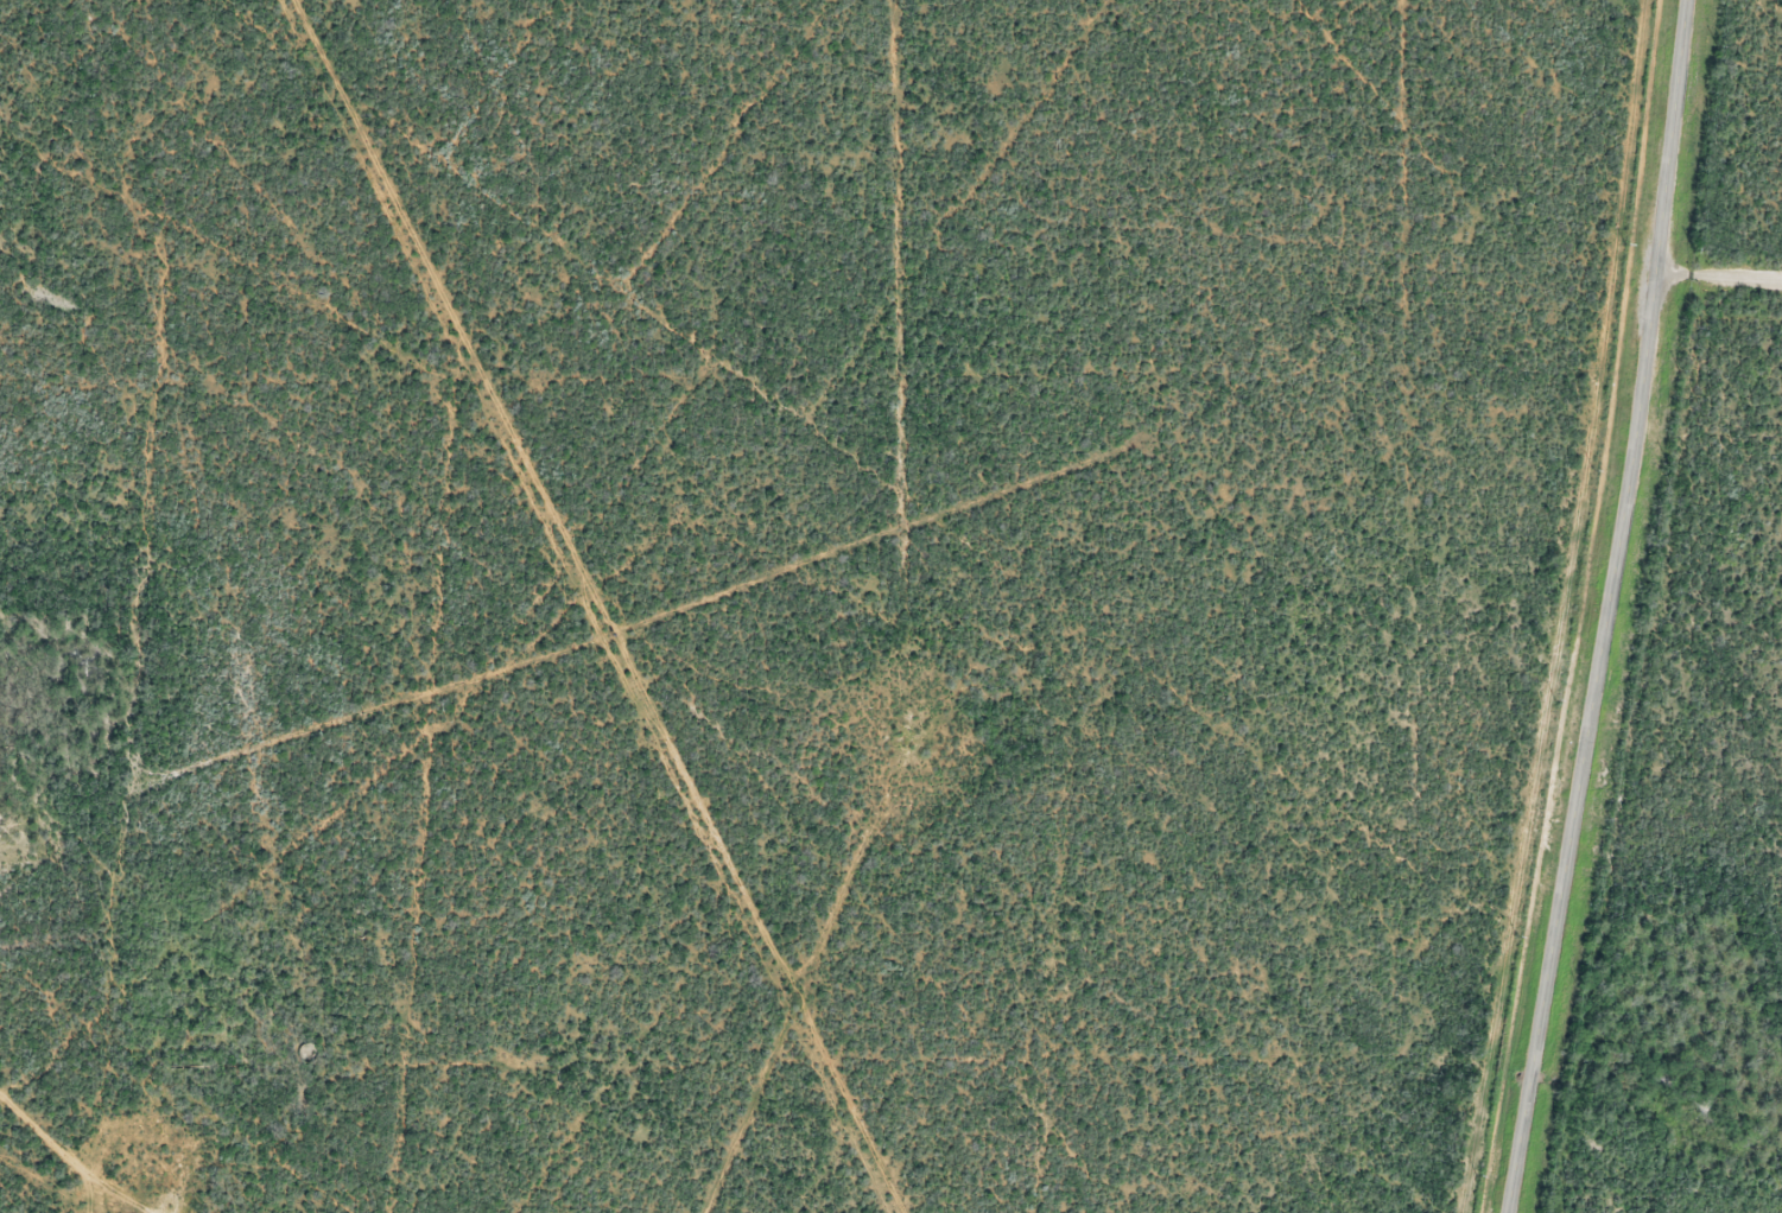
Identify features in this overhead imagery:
road: (1730, 290)
road: (1625, 606)

